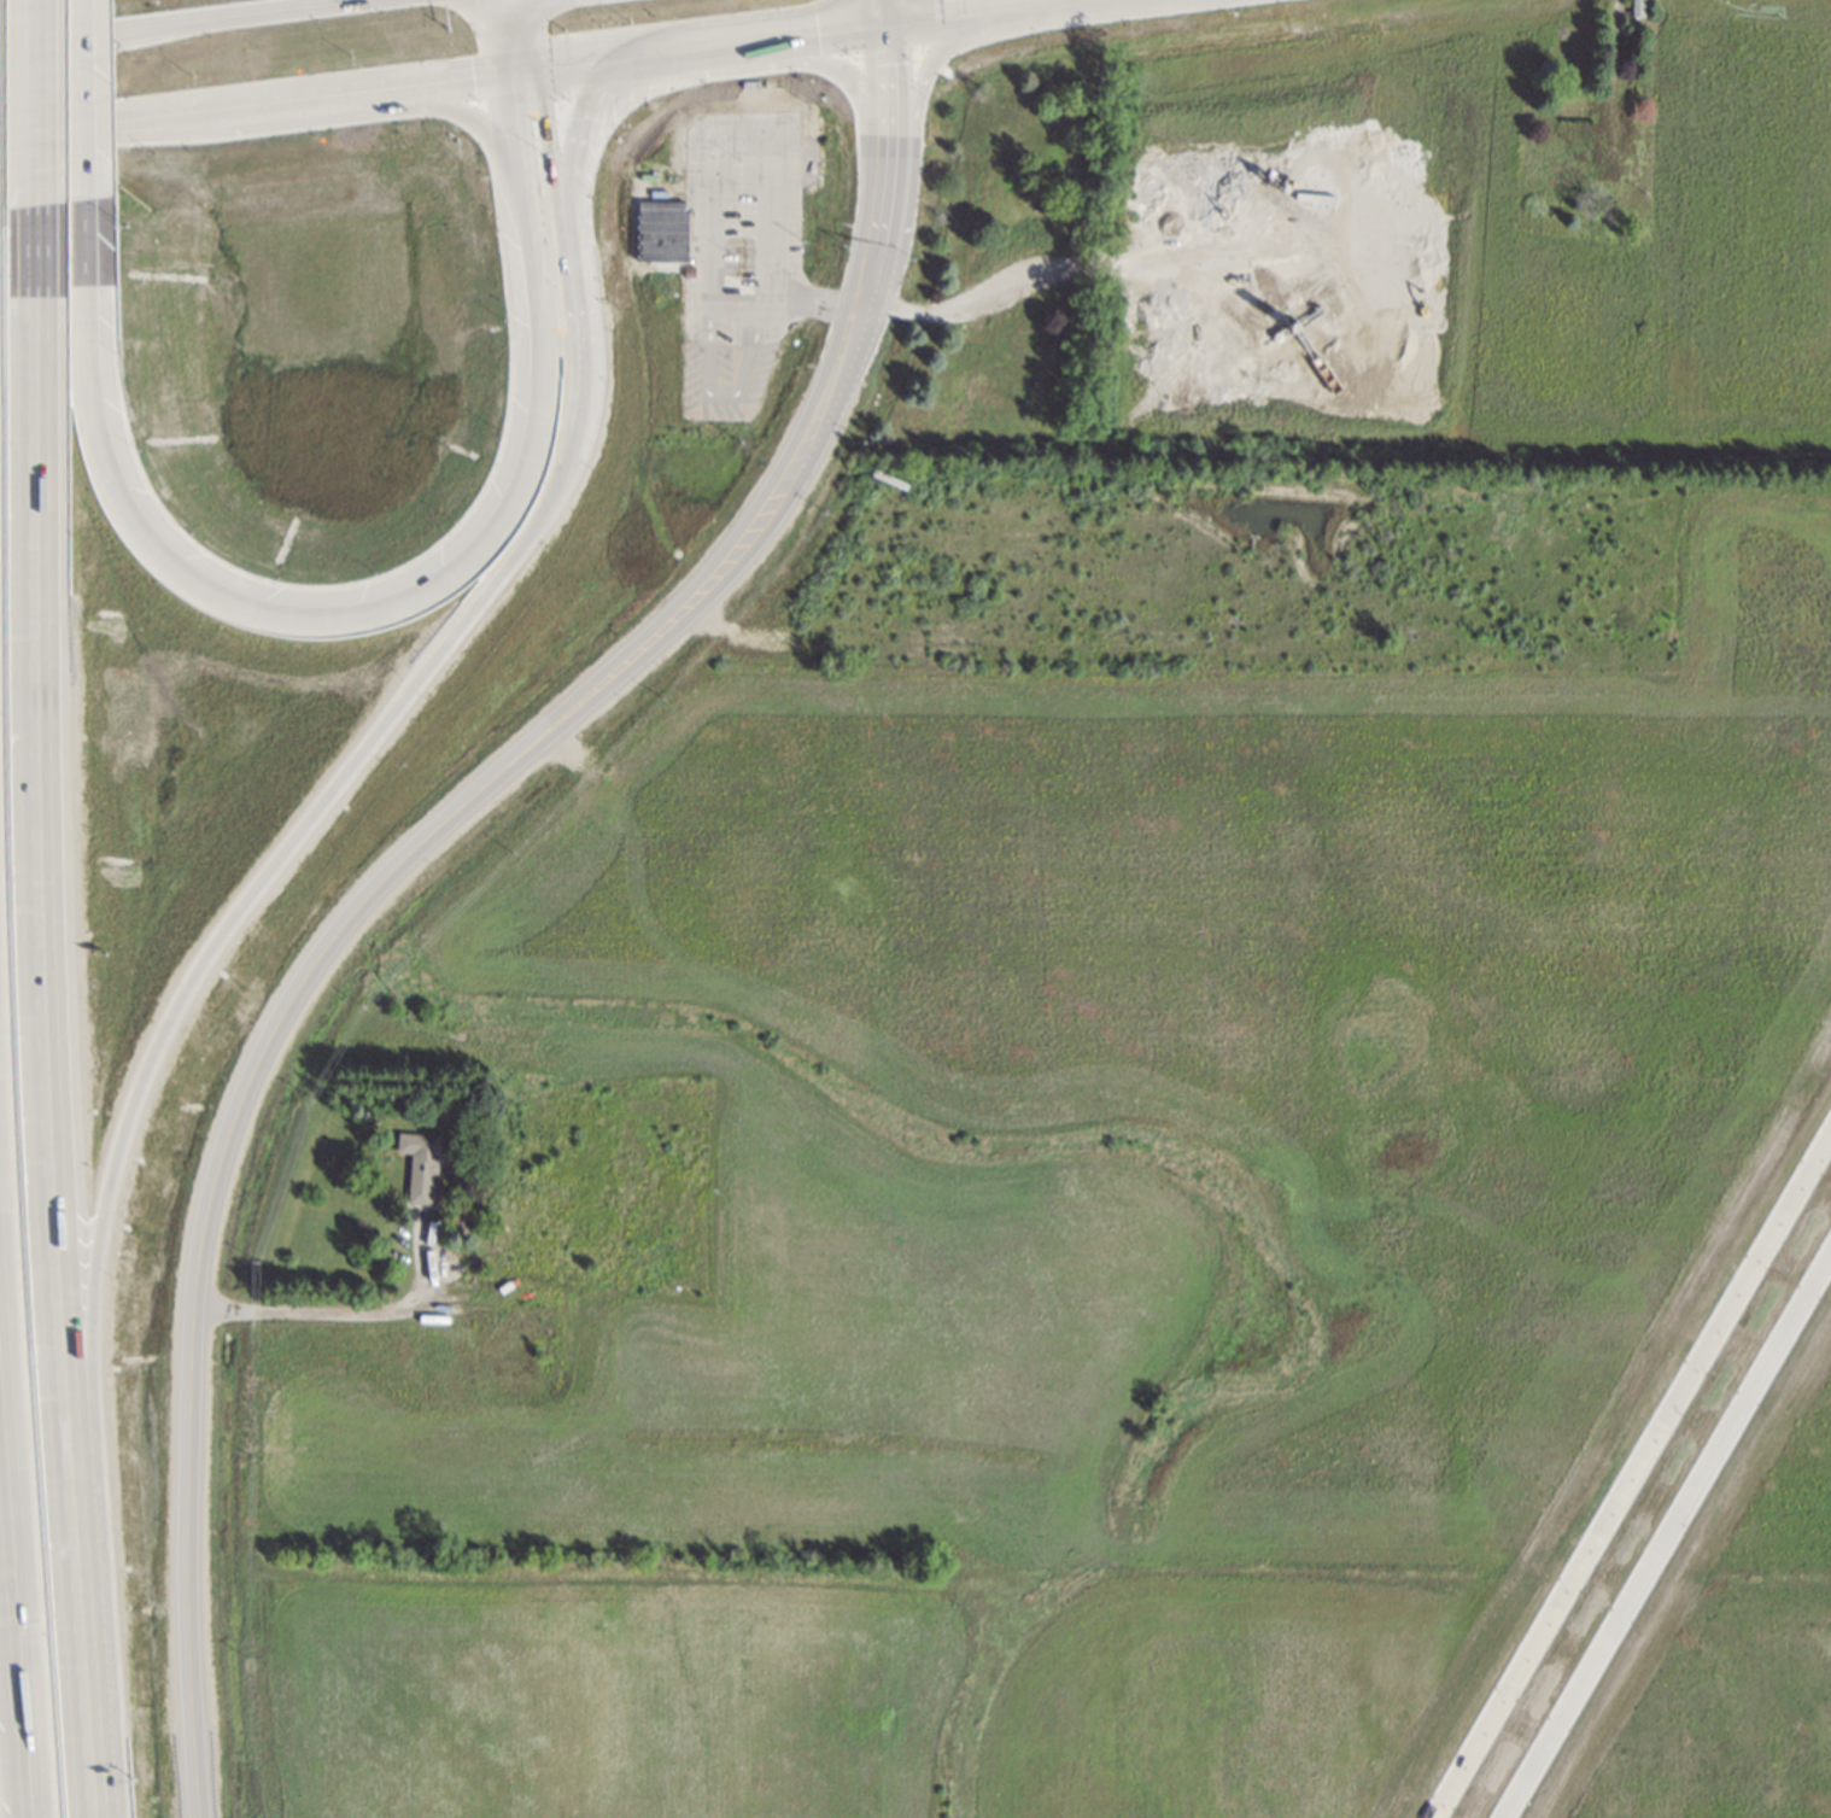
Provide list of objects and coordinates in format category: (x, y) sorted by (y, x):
building: (1638, 7)
road: (879, 12)
road: (988, 13)
road: (179, 19)
traffic signals: (882, 24)
road: (532, 34)
road: (492, 37)
road: (753, 39)
road: (110, 45)
road: (806, 57)
road: (581, 63)
traffic signals: (538, 69)
road: (517, 71)
traffic signals: (498, 75)
road: (887, 81)
road: (89, 95)
road: (35, 99)
road: (248, 101)
road: (320, 119)
road: (917, 123)
building: (747, 124)
road: (569, 173)
road: (556, 187)
road: (882, 209)
parking lot: (744, 229)
building: (663, 230)
road: (708, 257)
road: (1058, 265)
road: (868, 292)
road: (727, 394)
road: (574, 425)
road: (376, 608)
road: (59, 901)
road: (314, 969)
road: (166, 1011)
crop: (1157, 1013)
building: (421, 1163)
road: (328, 1314)
road: (1631, 1473)
road: (1665, 1533)
road: (12, 1609)
road: (87, 1711)
road: (8, 1738)

